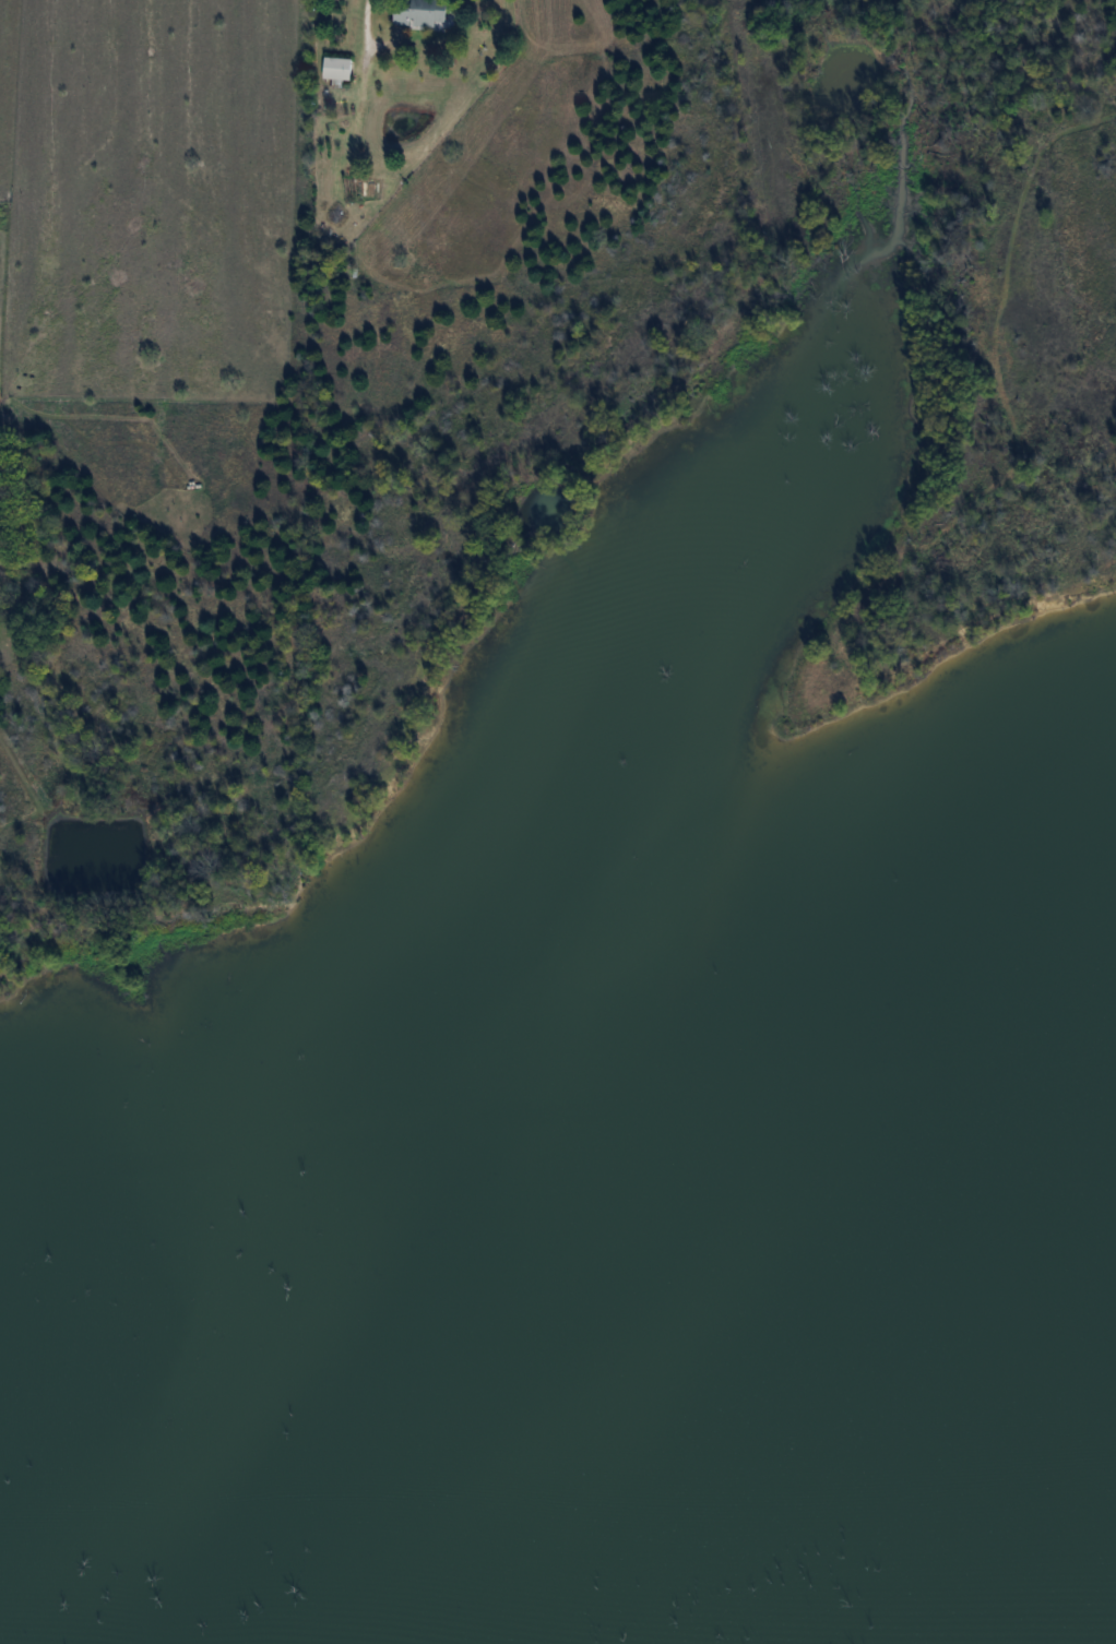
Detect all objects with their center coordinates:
building: (413, 9)
road: (360, 19)
building: (333, 62)

